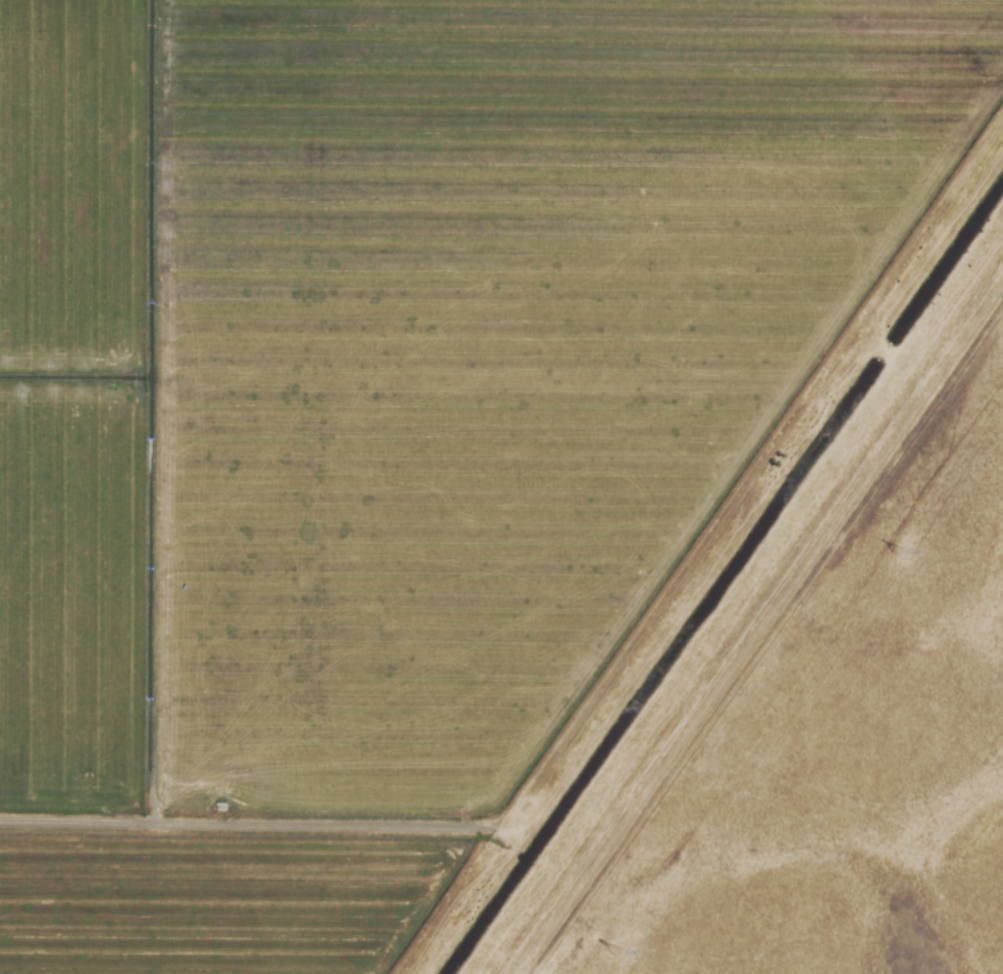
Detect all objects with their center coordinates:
power tower: (895, 556)
power tower: (613, 955)

